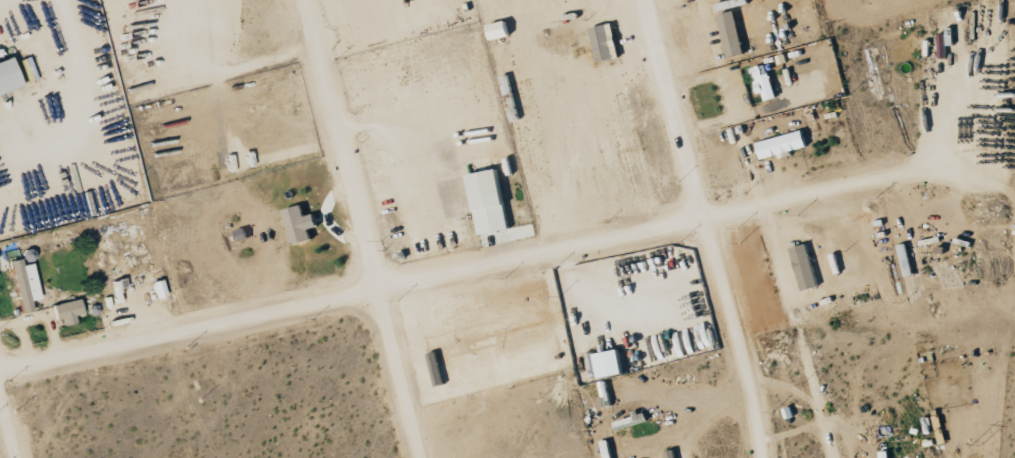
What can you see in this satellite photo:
building: (501, 30)
building: (733, 34)
building: (605, 43)
building: (9, 78)
building: (765, 81)
power tower: (1009, 91)
road: (730, 96)
building: (784, 145)
building: (495, 210)
building: (299, 225)
road: (360, 228)
road: (707, 228)
road: (489, 264)
building: (806, 268)
building: (27, 285)
building: (160, 289)
road: (599, 298)
building: (69, 311)
road: (710, 392)
road: (7, 431)
power tower: (974, 447)
building: (888, 454)

